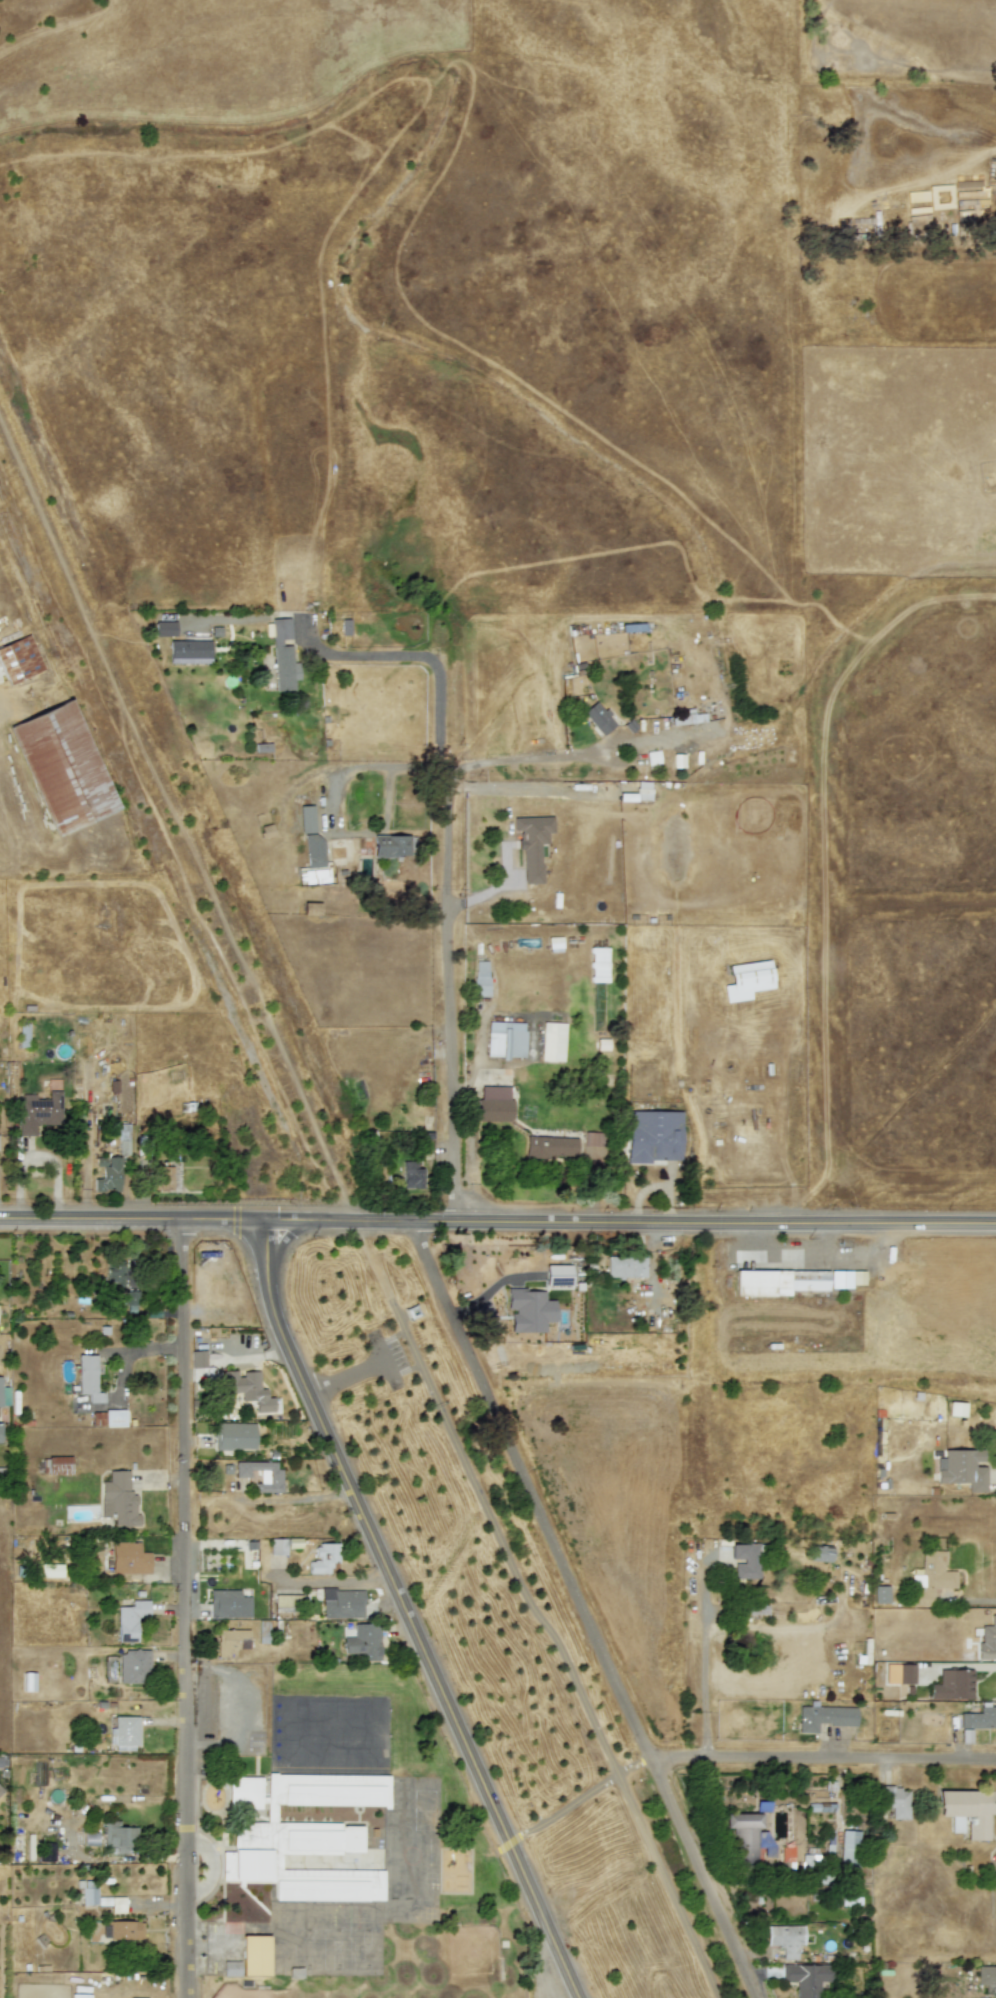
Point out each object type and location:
building: (165, 628)
building: (189, 650)
building: (282, 656)
building: (19, 659)
building: (598, 718)
road: (573, 754)
building: (63, 767)
building: (643, 790)
road: (331, 808)
building: (306, 819)
building: (531, 844)
building: (390, 846)
building: (314, 851)
road: (443, 863)
road: (819, 869)
building: (313, 875)
building: (310, 908)
building: (554, 944)
building: (598, 964)
building: (481, 979)
building: (746, 979)
building: (23, 1036)
building: (505, 1039)
building: (552, 1041)
building: (494, 1103)
building: (38, 1112)
building: (654, 1137)
building: (593, 1138)
building: (551, 1147)
building: (108, 1174)
building: (412, 1175)
building: (164, 1178)
road: (91, 1217)
road: (224, 1219)
road: (630, 1225)
road: (786, 1253)
building: (625, 1267)
building: (115, 1270)
building: (558, 1275)
building: (845, 1279)
building: (778, 1282)
building: (130, 1301)
building: (529, 1310)
road: (409, 1353)
building: (198, 1359)
road: (356, 1375)
building: (88, 1378)
building: (246, 1390)
building: (4, 1395)
building: (956, 1408)
building: (115, 1418)
building: (1, 1434)
building: (233, 1436)
building: (56, 1465)
building: (961, 1469)
building: (261, 1475)
road: (705, 1492)
building: (118, 1499)
building: (278, 1547)
building: (820, 1553)
building: (128, 1558)
building: (323, 1558)
building: (746, 1560)
building: (930, 1578)
building: (881, 1594)
road: (970, 1599)
building: (341, 1603)
building: (228, 1604)
road: (185, 1607)
road: (585, 1611)
road: (406, 1614)
building: (130, 1620)
road: (560, 1638)
building: (987, 1640)
building: (230, 1641)
building: (363, 1641)
building: (134, 1667)
building: (899, 1673)
building: (29, 1681)
building: (952, 1685)
road: (235, 1703)
building: (824, 1717)
building: (979, 1717)
building: (124, 1733)
road: (824, 1758)
building: (0, 1760)
building: (0, 1795)
building: (895, 1801)
building: (966, 1812)
building: (743, 1835)
building: (118, 1836)
building: (303, 1836)
building: (90, 1839)
building: (765, 1842)
building: (47, 1852)
building: (849, 1853)
road: (207, 1865)
building: (89, 1892)
building: (112, 1903)
building: (121, 1930)
building: (785, 1939)
road: (212, 1948)
building: (254, 1955)
building: (230, 1968)
building: (986, 1975)
building: (808, 1978)

